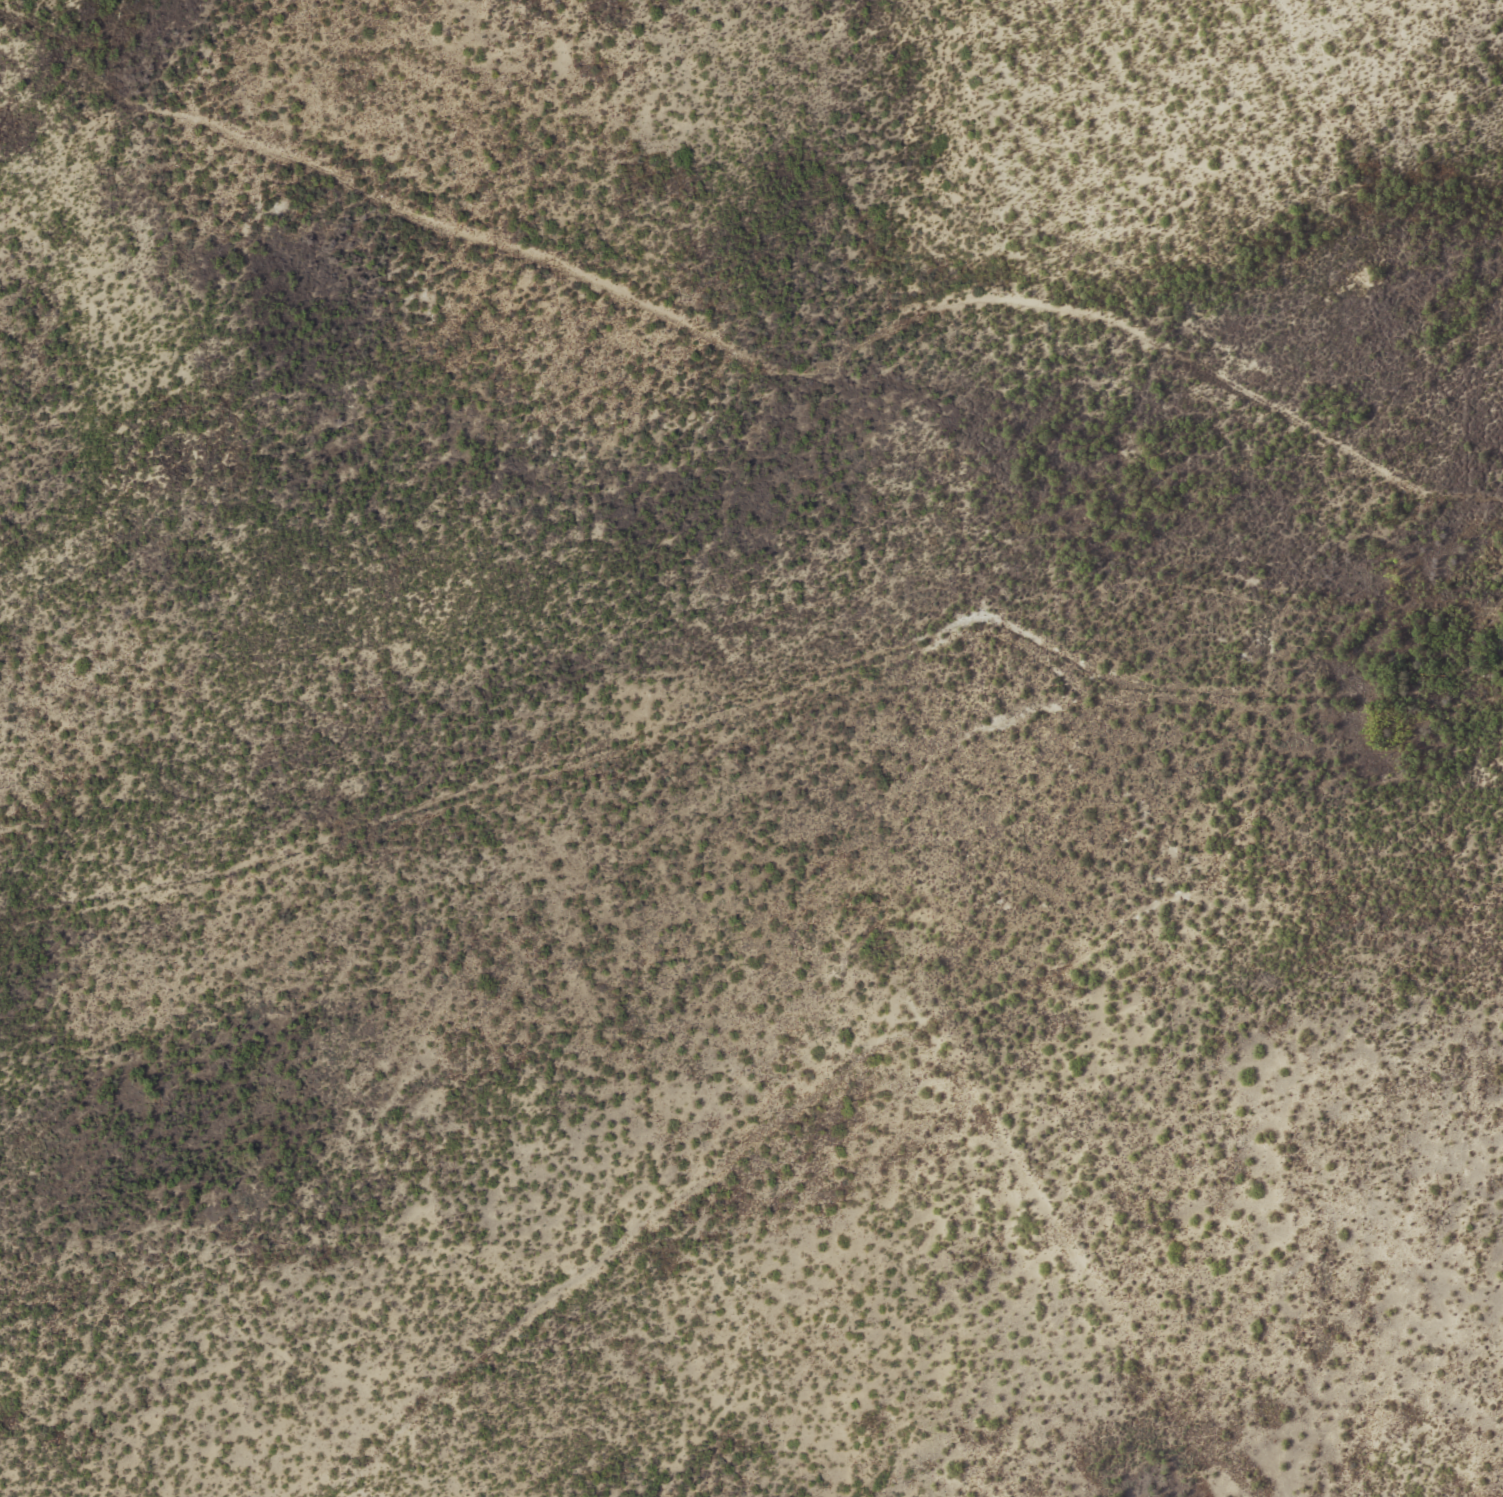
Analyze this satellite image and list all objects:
road: (746, 354)

